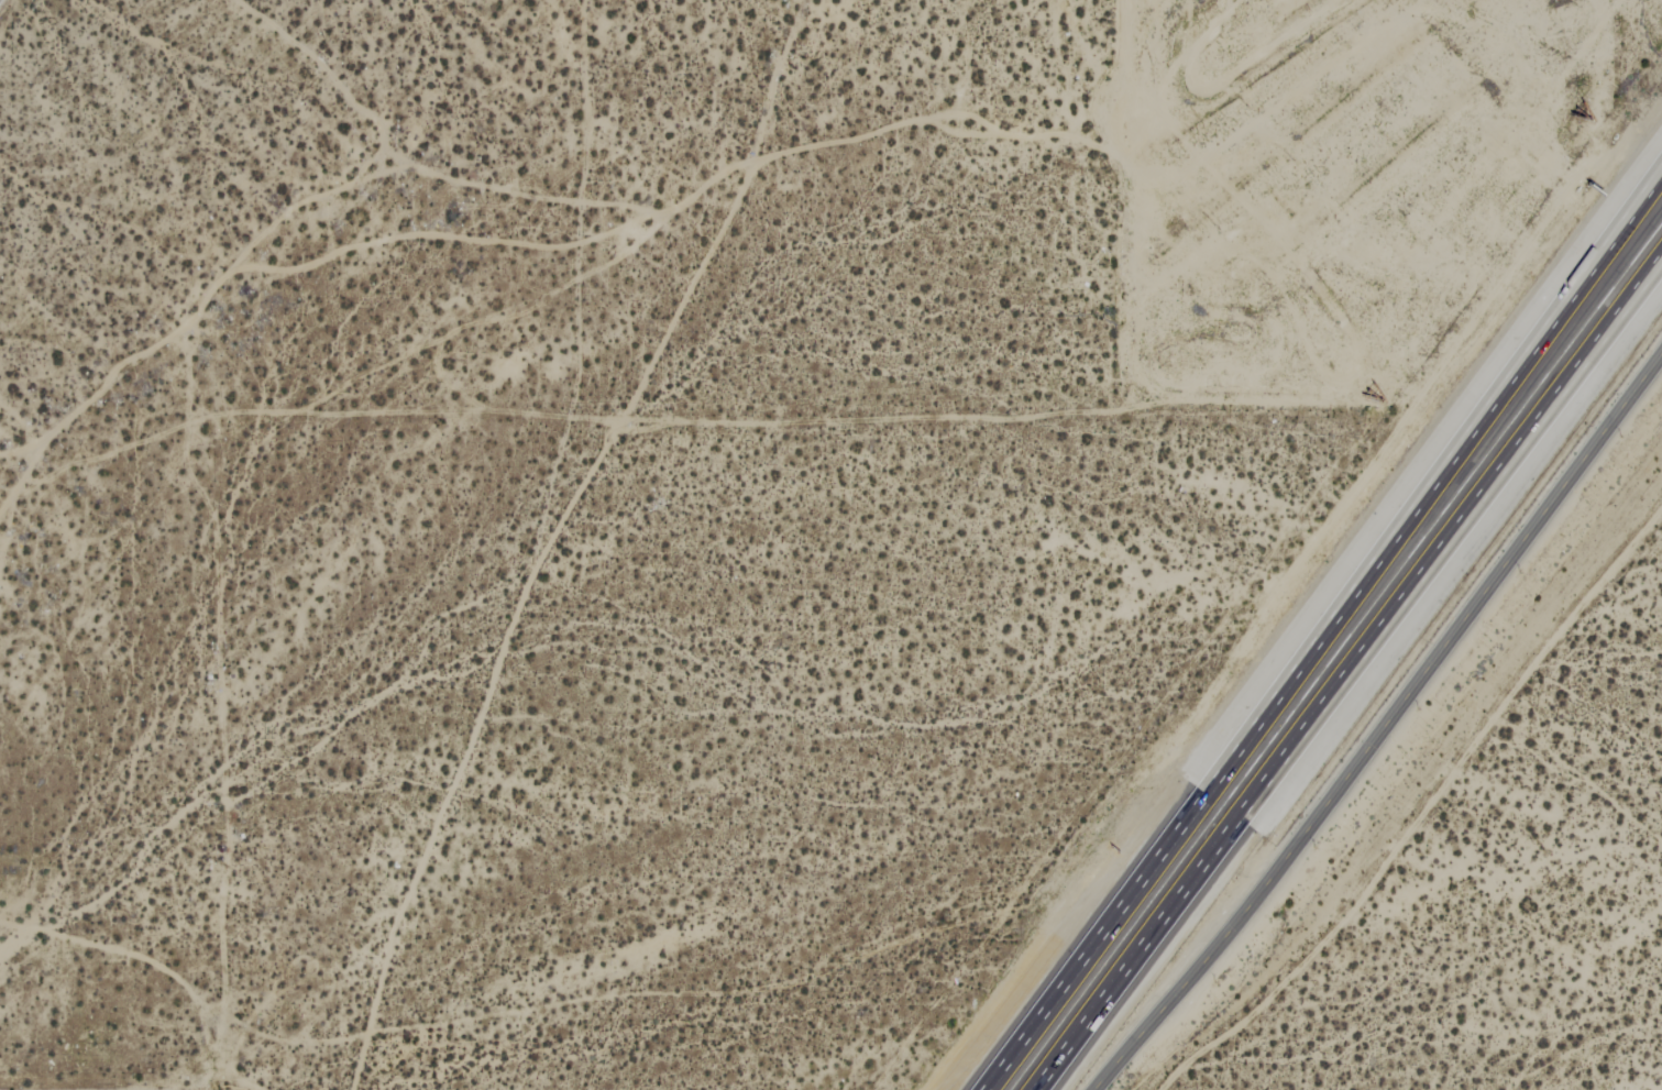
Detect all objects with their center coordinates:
road: (1324, 636)
railway: (1336, 653)
road: (1347, 665)
road: (1378, 718)

